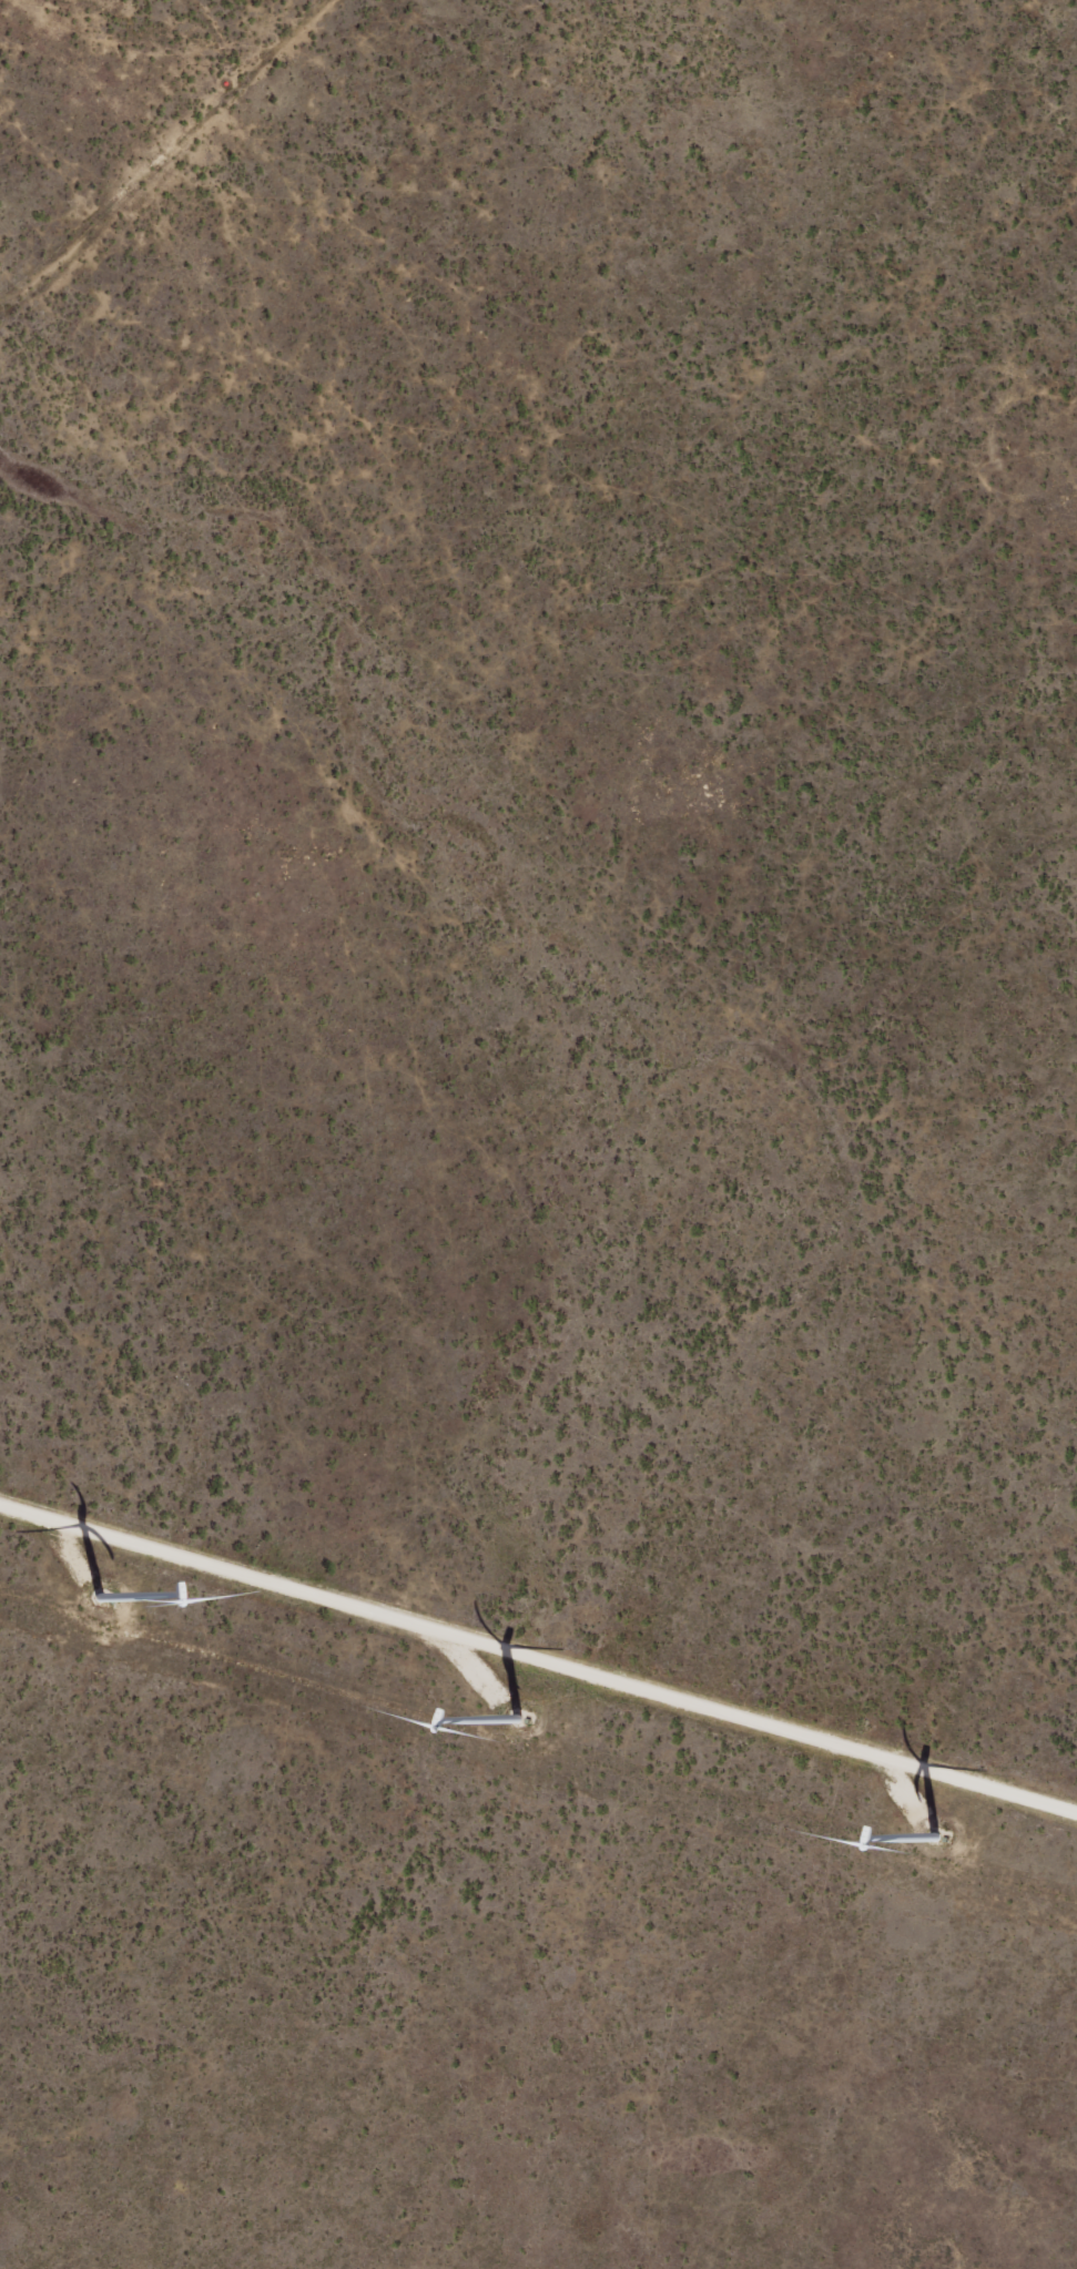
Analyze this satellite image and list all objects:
road: (291, 51)
road: (155, 179)
wind turbine: (64, 1606)
wind turbine: (508, 1727)
wind turbine: (896, 1853)

